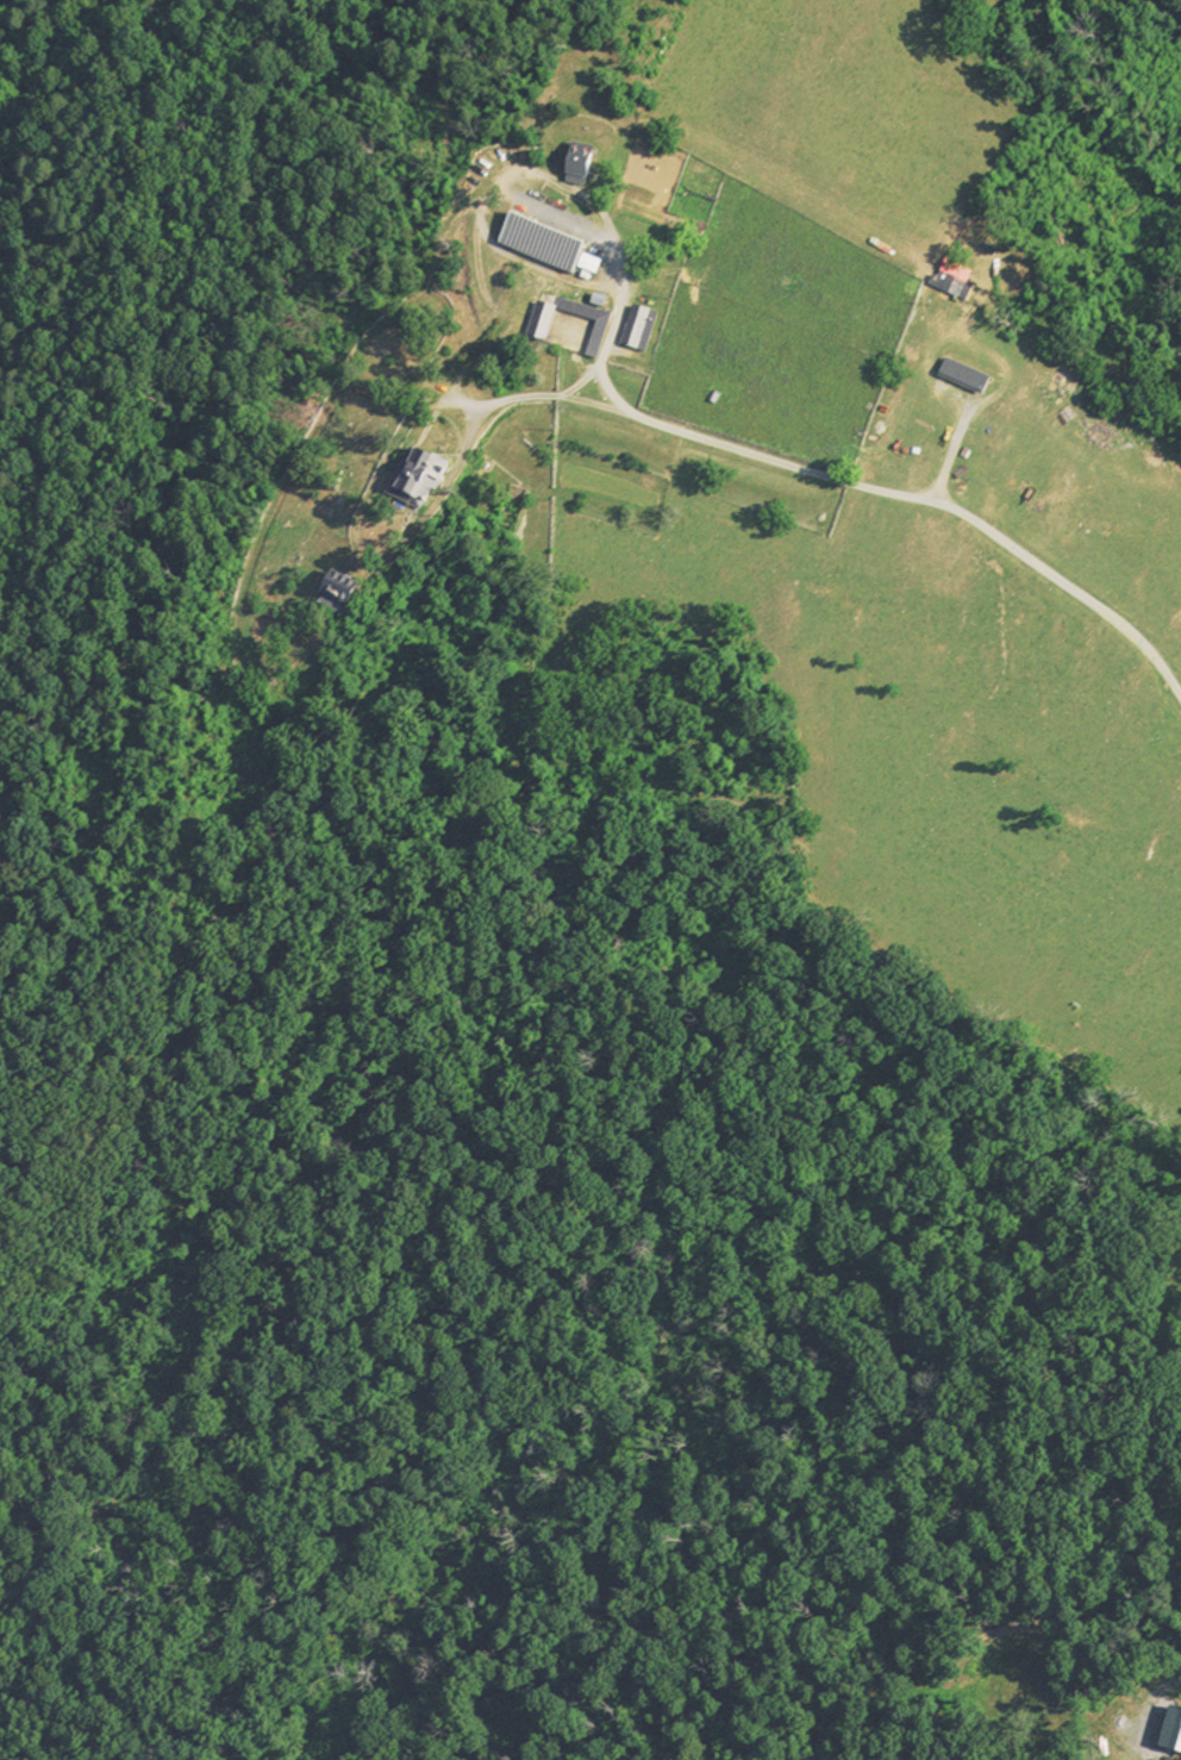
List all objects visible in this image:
building: (583, 164)
road: (617, 316)
building: (643, 329)
building: (545, 330)
building: (969, 377)
road: (773, 458)
building: (424, 482)
building: (344, 593)

